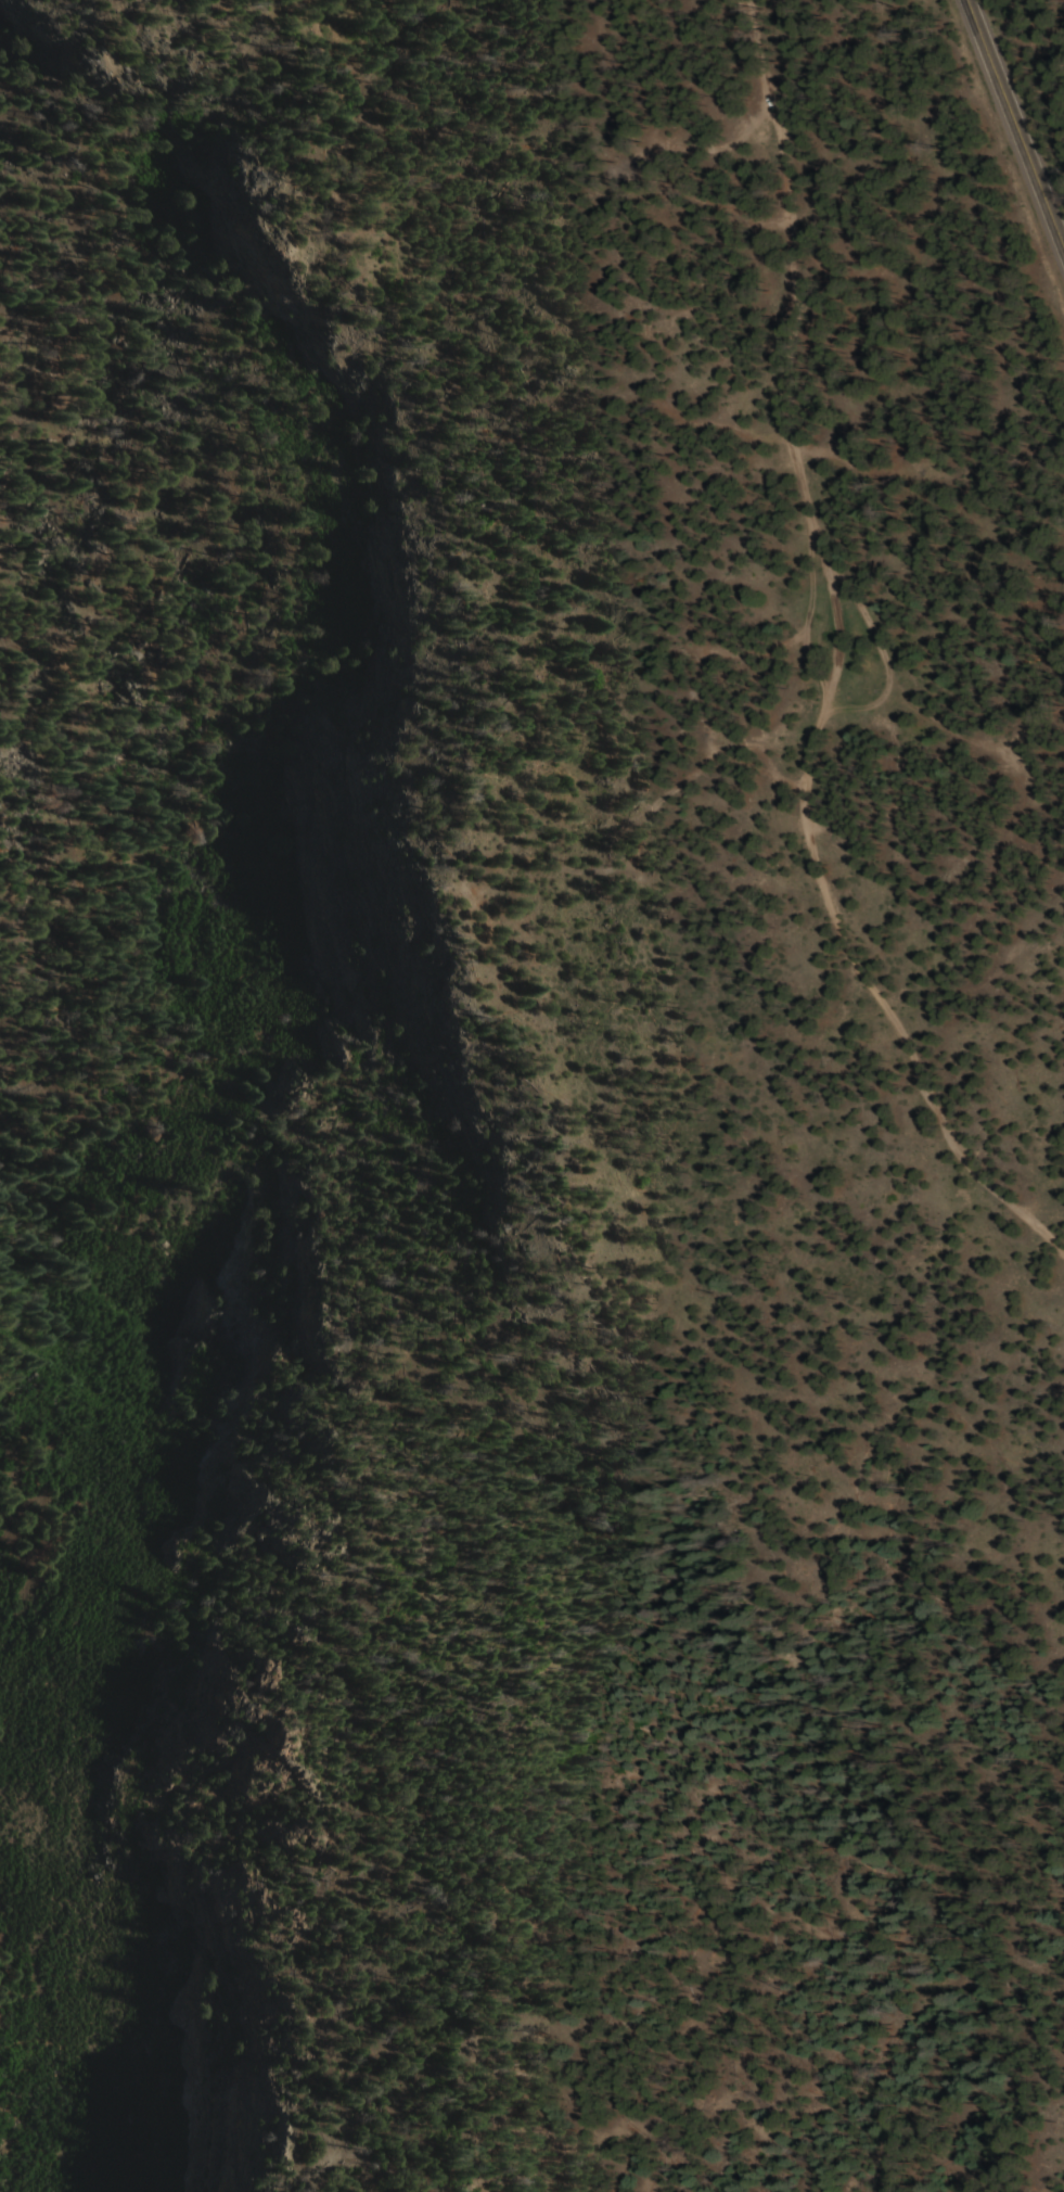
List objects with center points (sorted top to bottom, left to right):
road: (1047, 27)
road: (329, 125)
road: (1014, 125)
road: (1057, 219)
road: (773, 685)
road: (1061, 2187)

